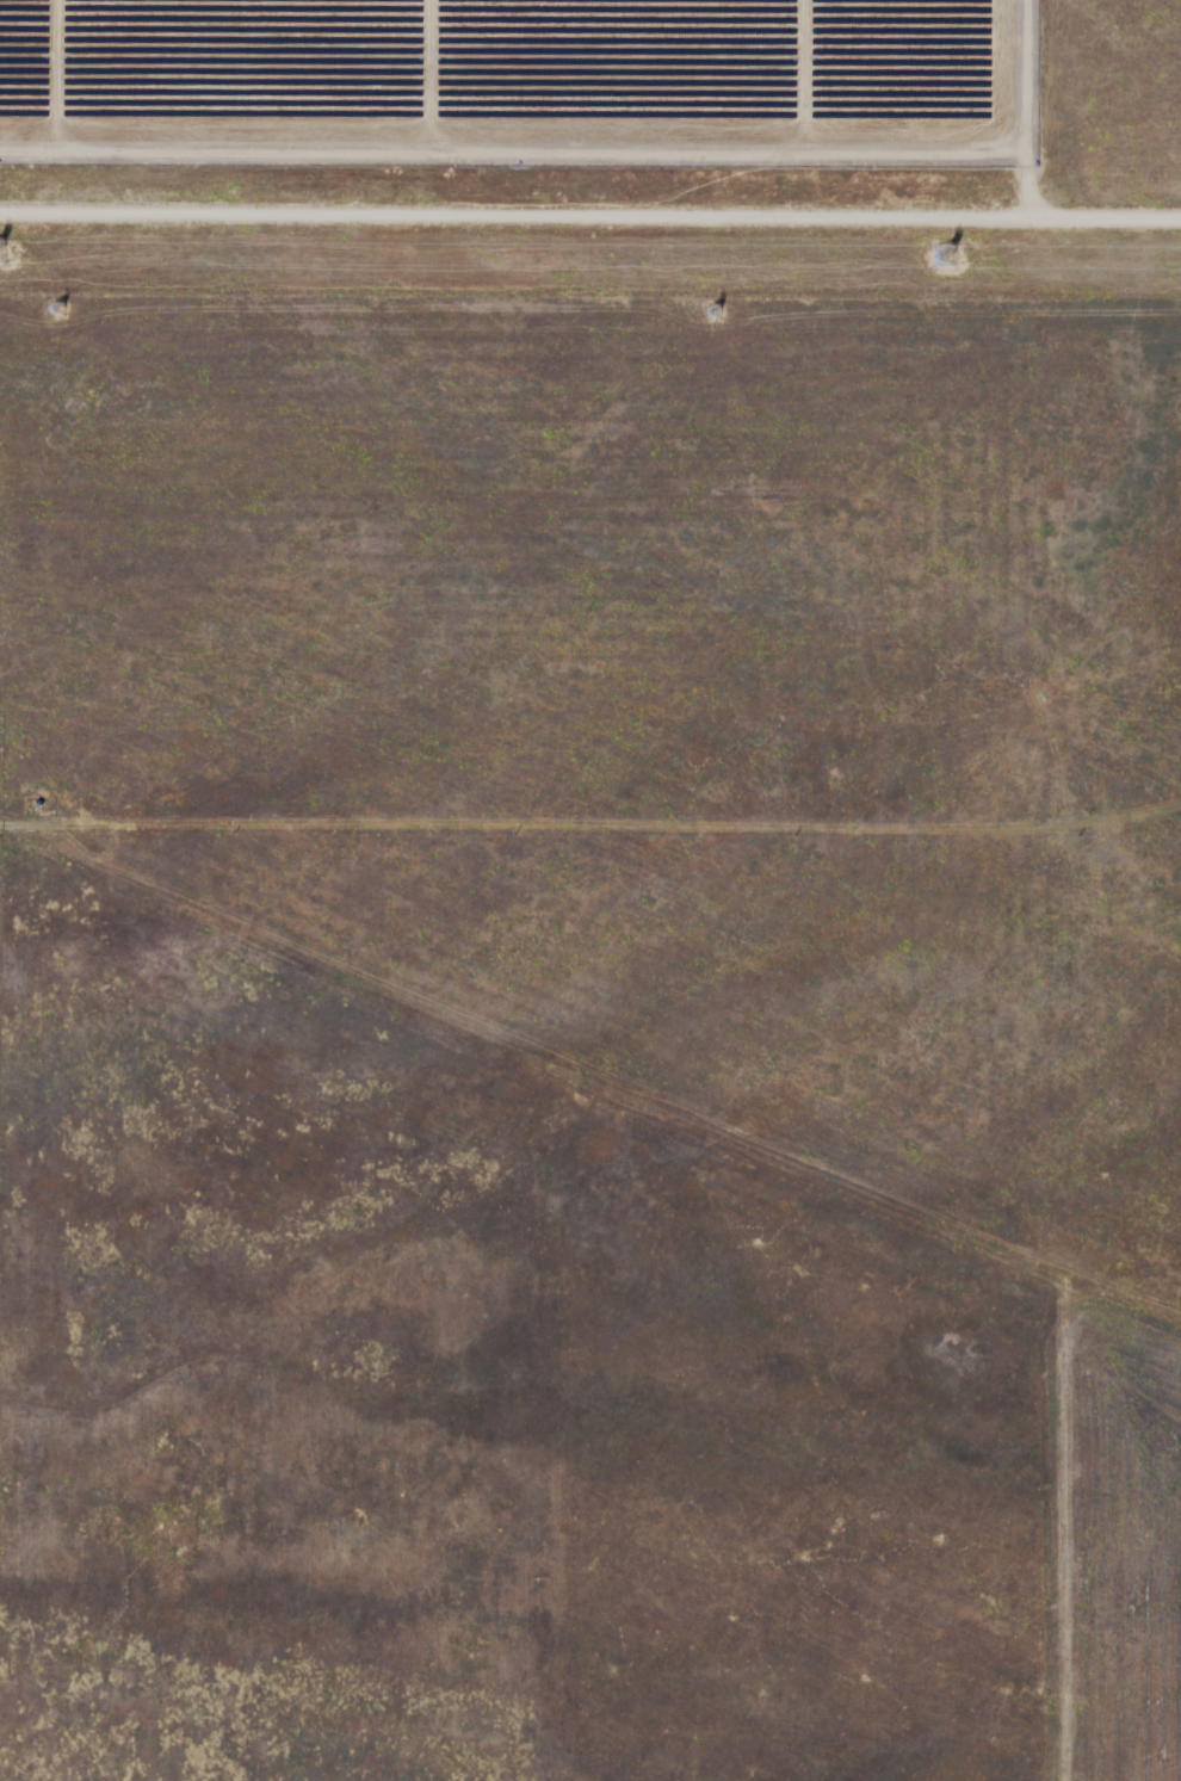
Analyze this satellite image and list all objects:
solar farm: (593, 144)
power tower: (940, 256)
power tower: (60, 313)
power tower: (721, 316)

